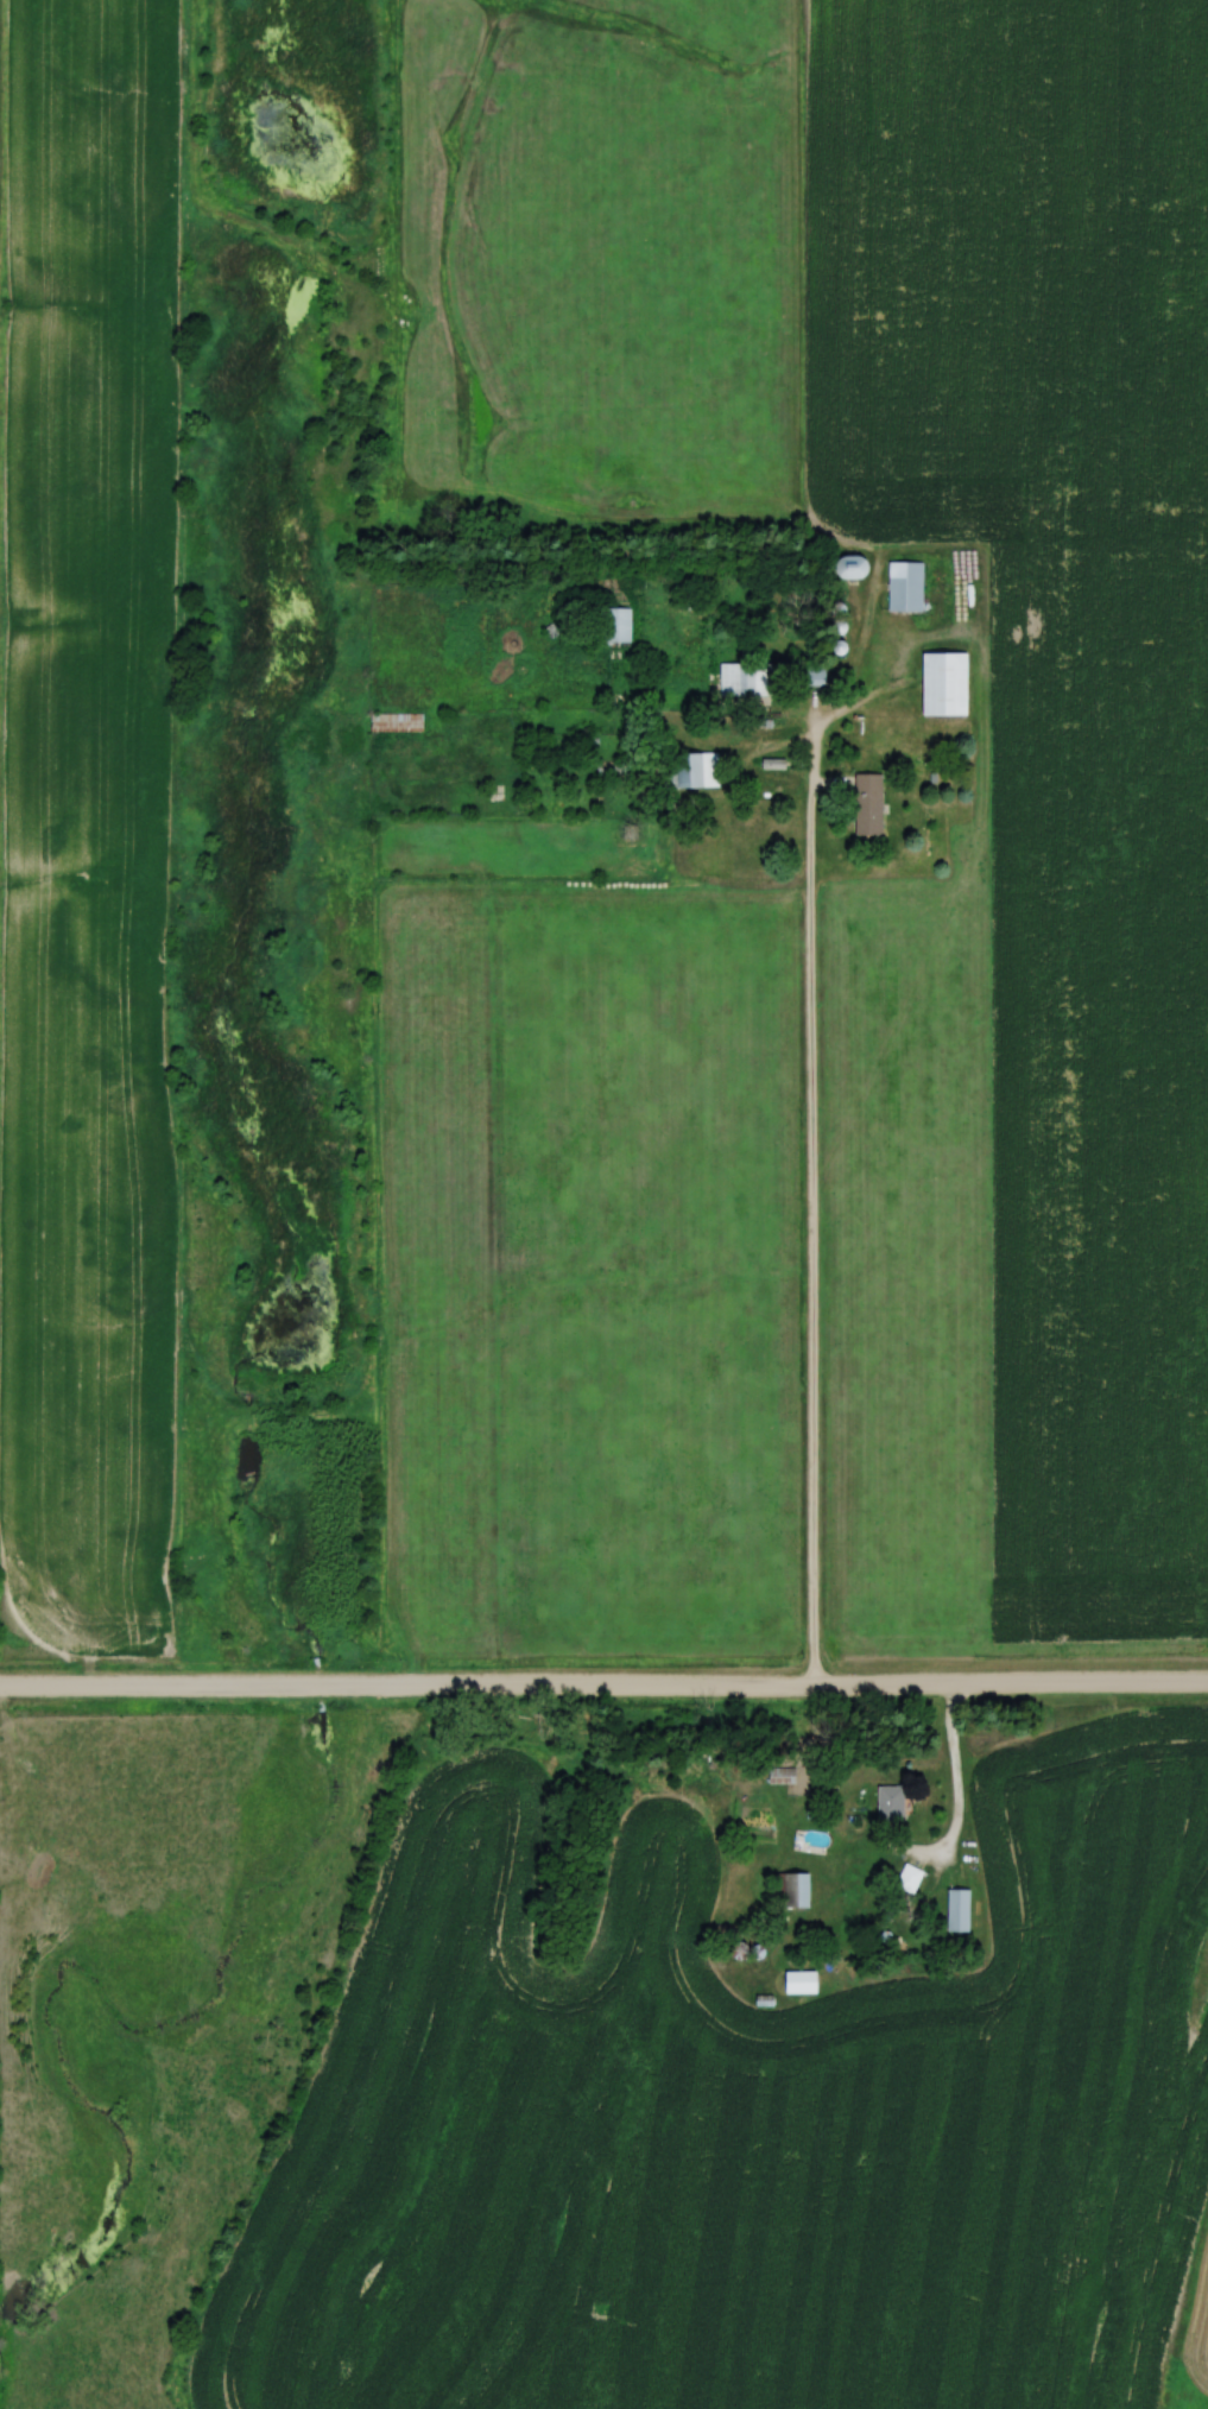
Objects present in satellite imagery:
building: (905, 587)
building: (622, 625)
building: (745, 679)
building: (945, 683)
building: (396, 721)
building: (706, 769)
building: (869, 803)
road: (811, 1197)
road: (603, 1689)
road: (954, 1785)
building: (890, 1803)
building: (795, 1889)
building: (957, 1909)
building: (801, 1981)

